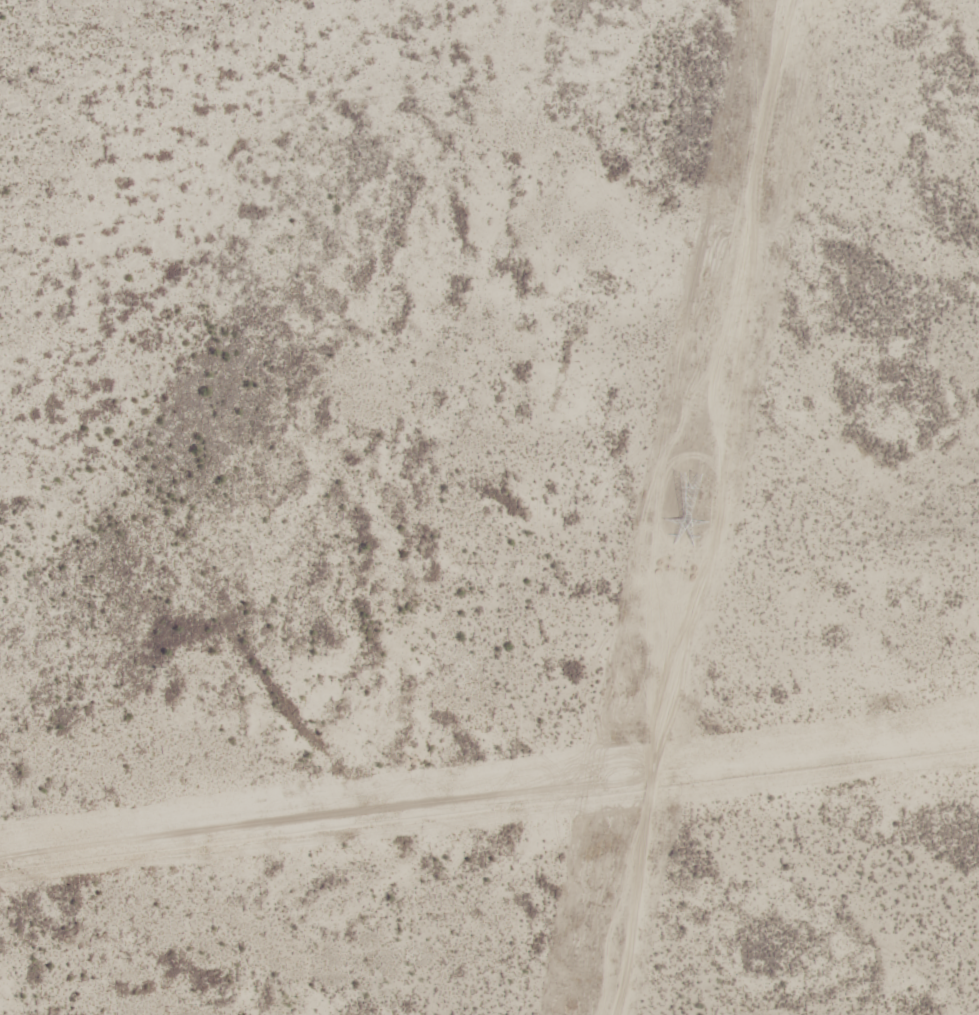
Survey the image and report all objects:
power tower: (683, 571)

